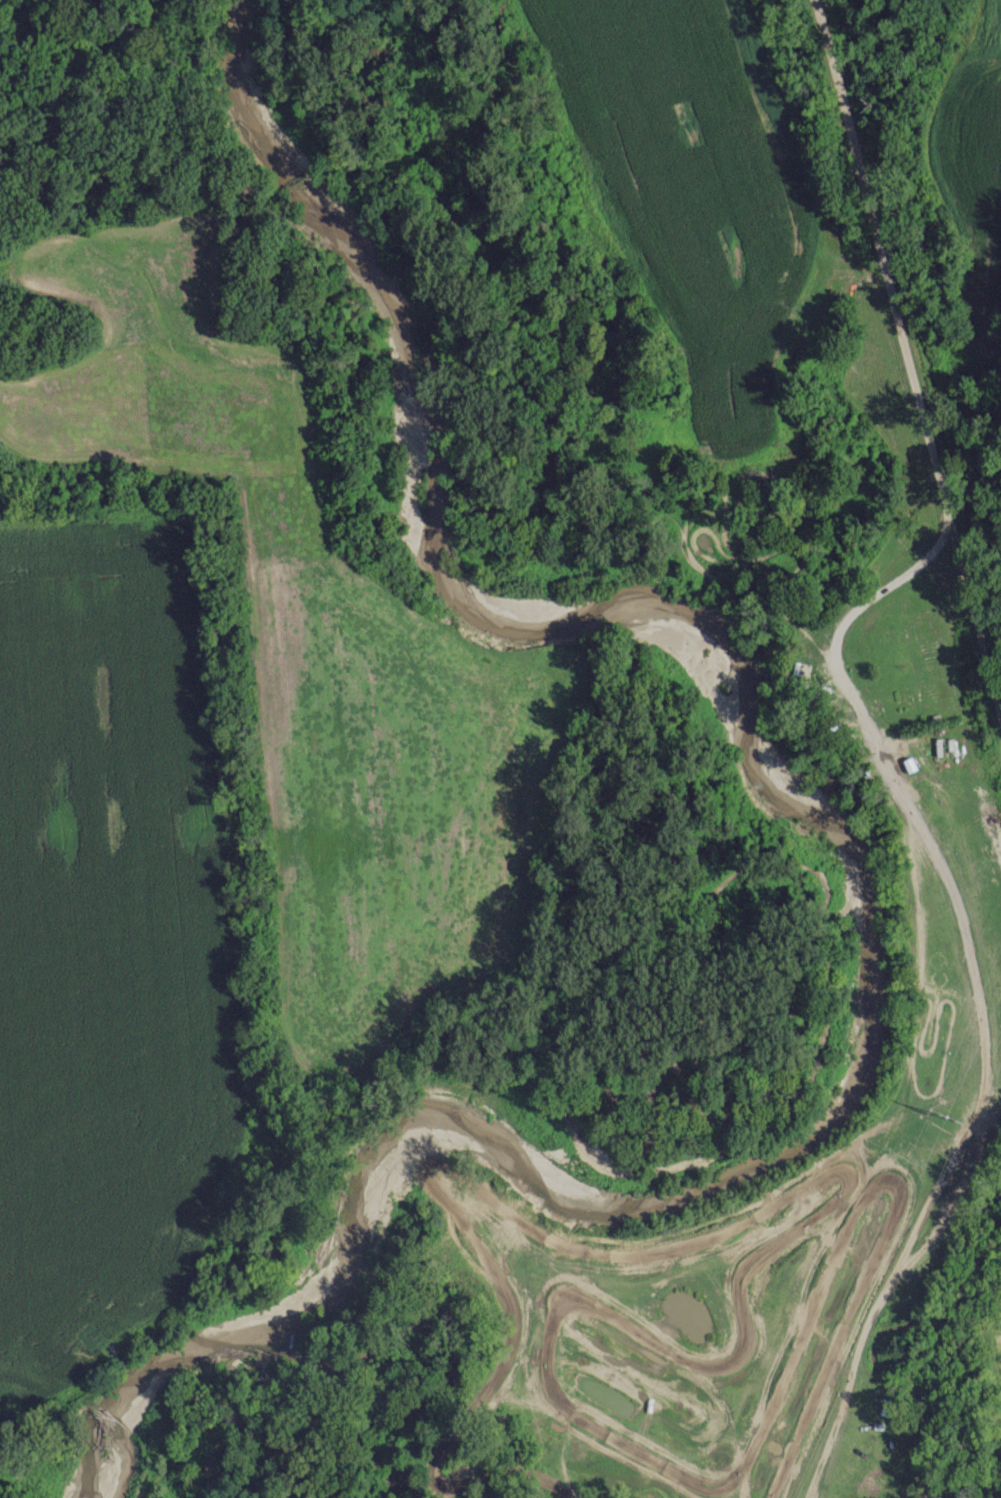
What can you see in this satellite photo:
power tower: (943, 1115)

